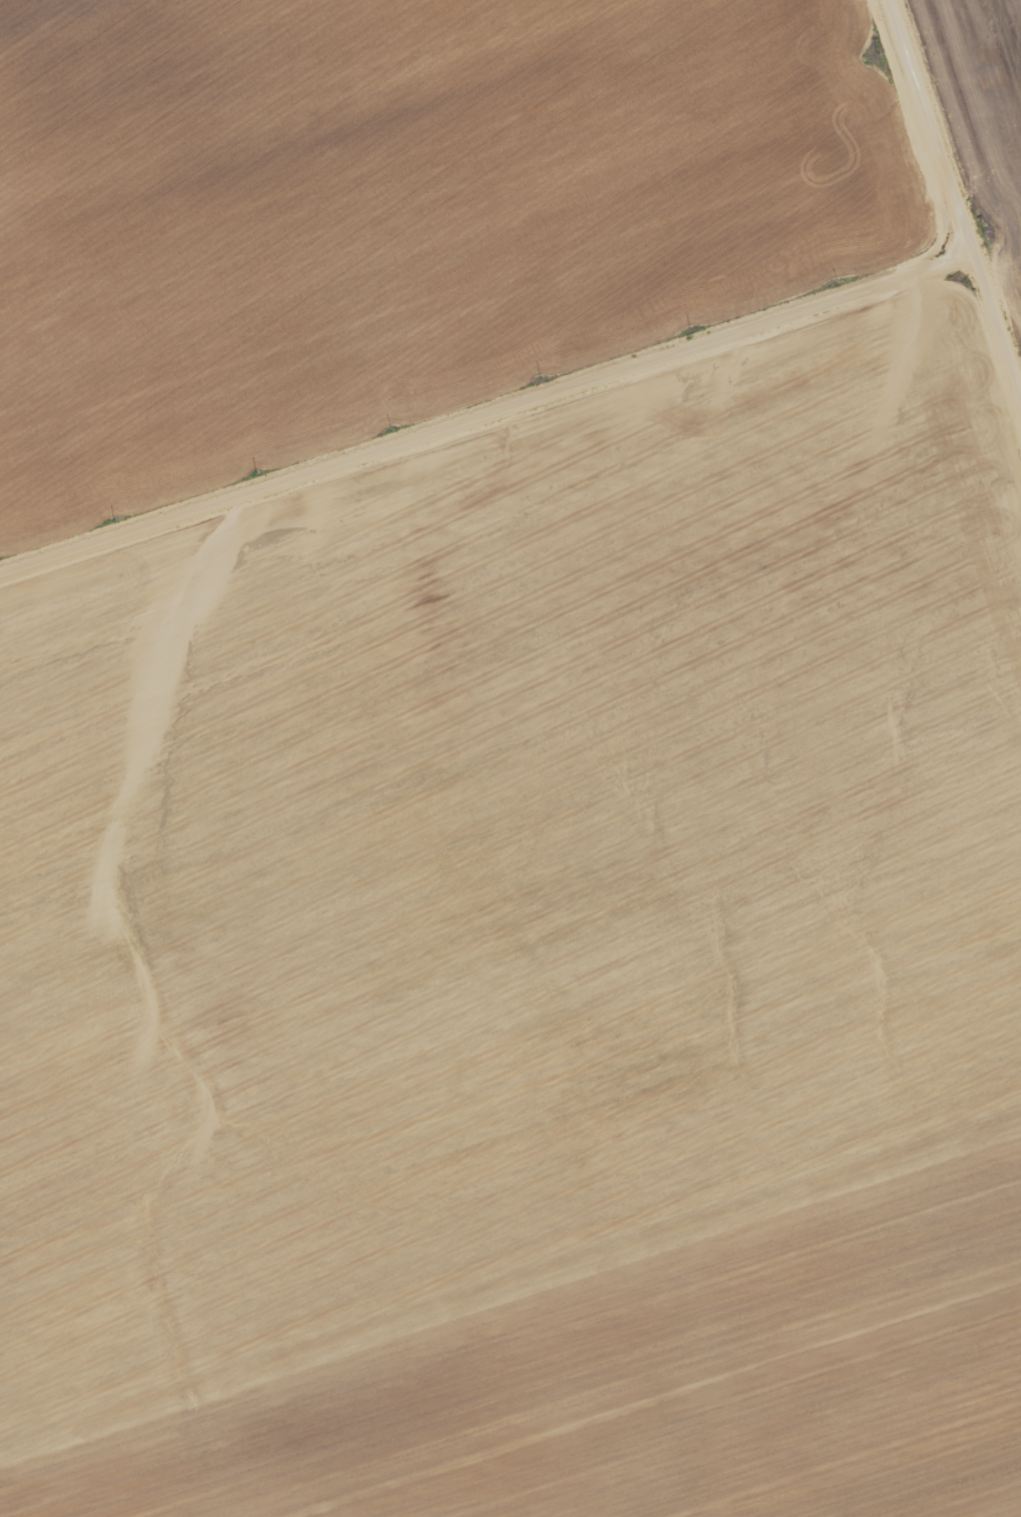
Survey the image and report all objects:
road: (931, 126)
road: (997, 327)
road: (486, 411)

